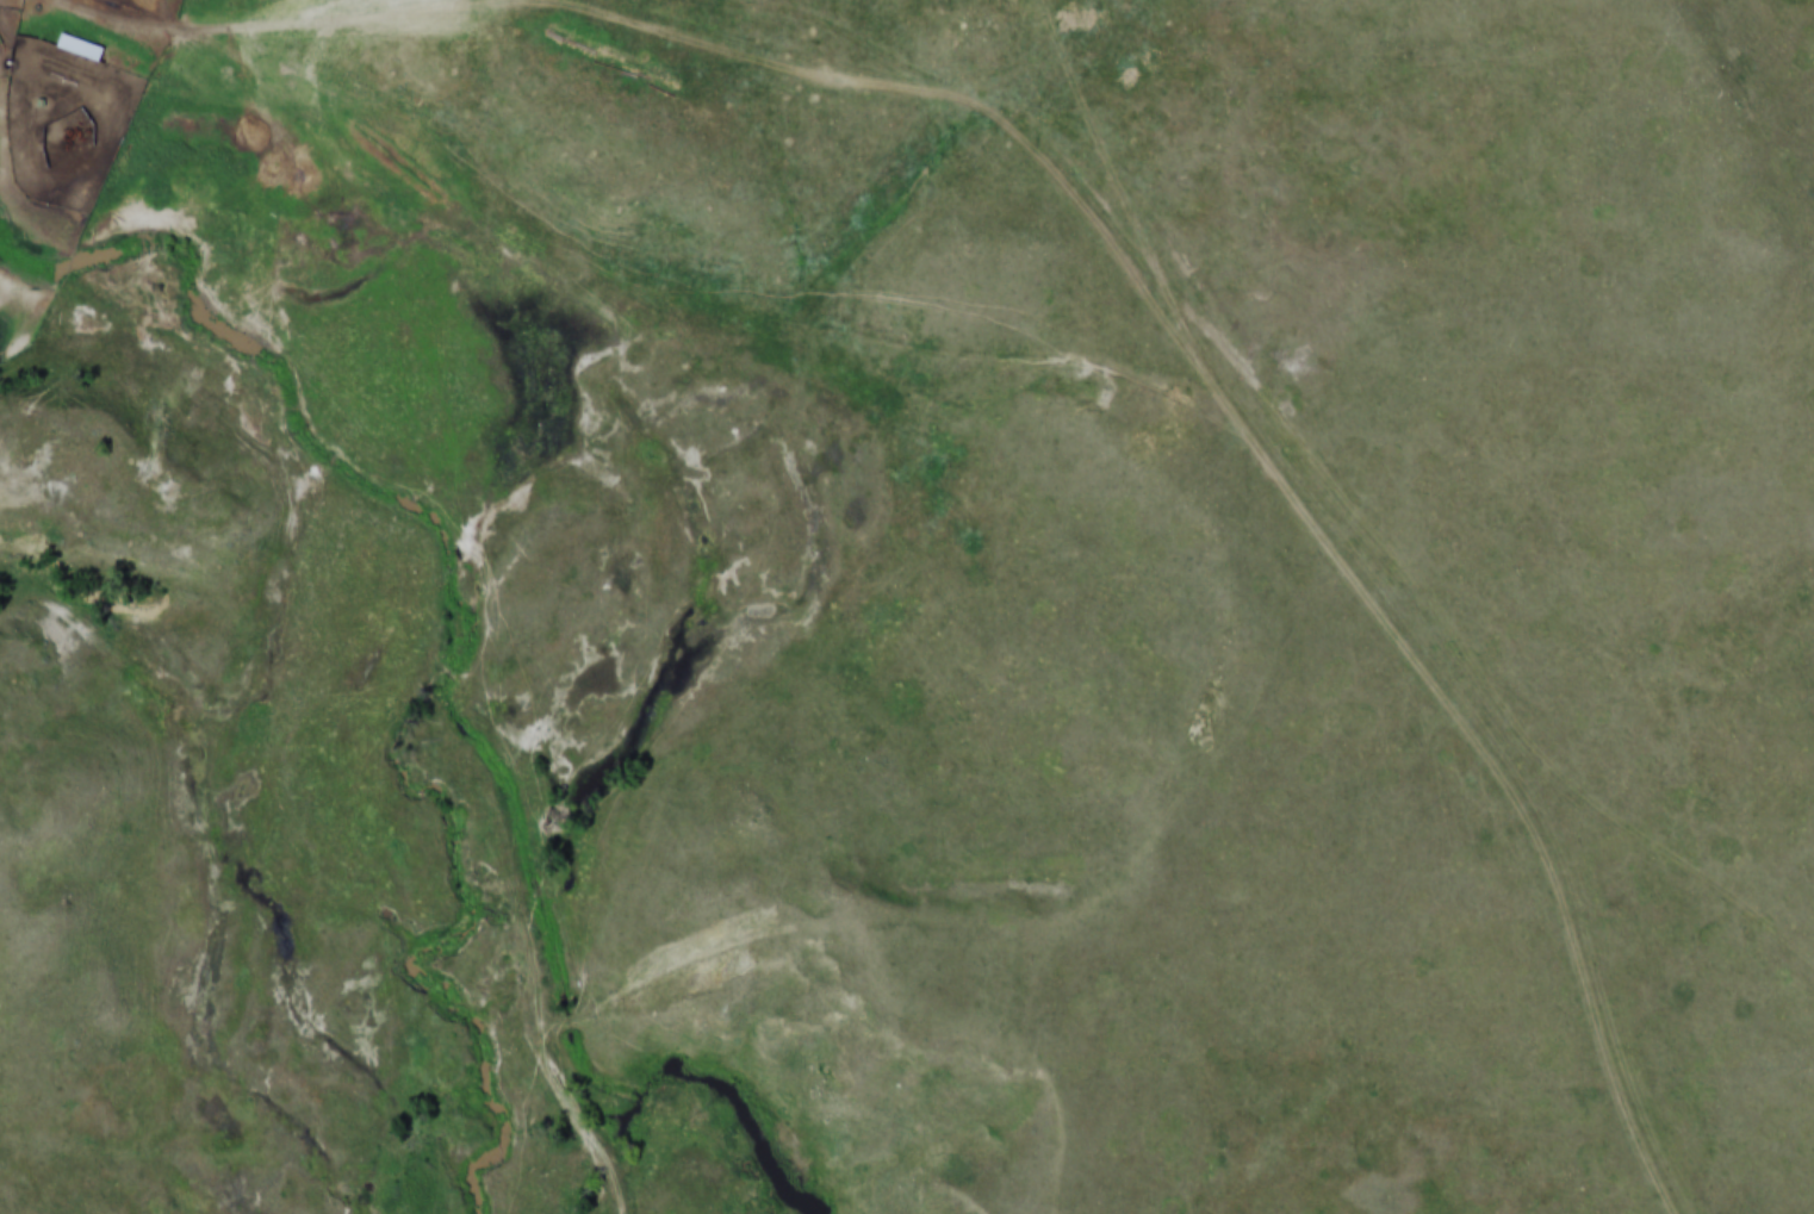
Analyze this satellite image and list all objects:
road: (216, 18)
building: (31, 32)
road: (1251, 432)

